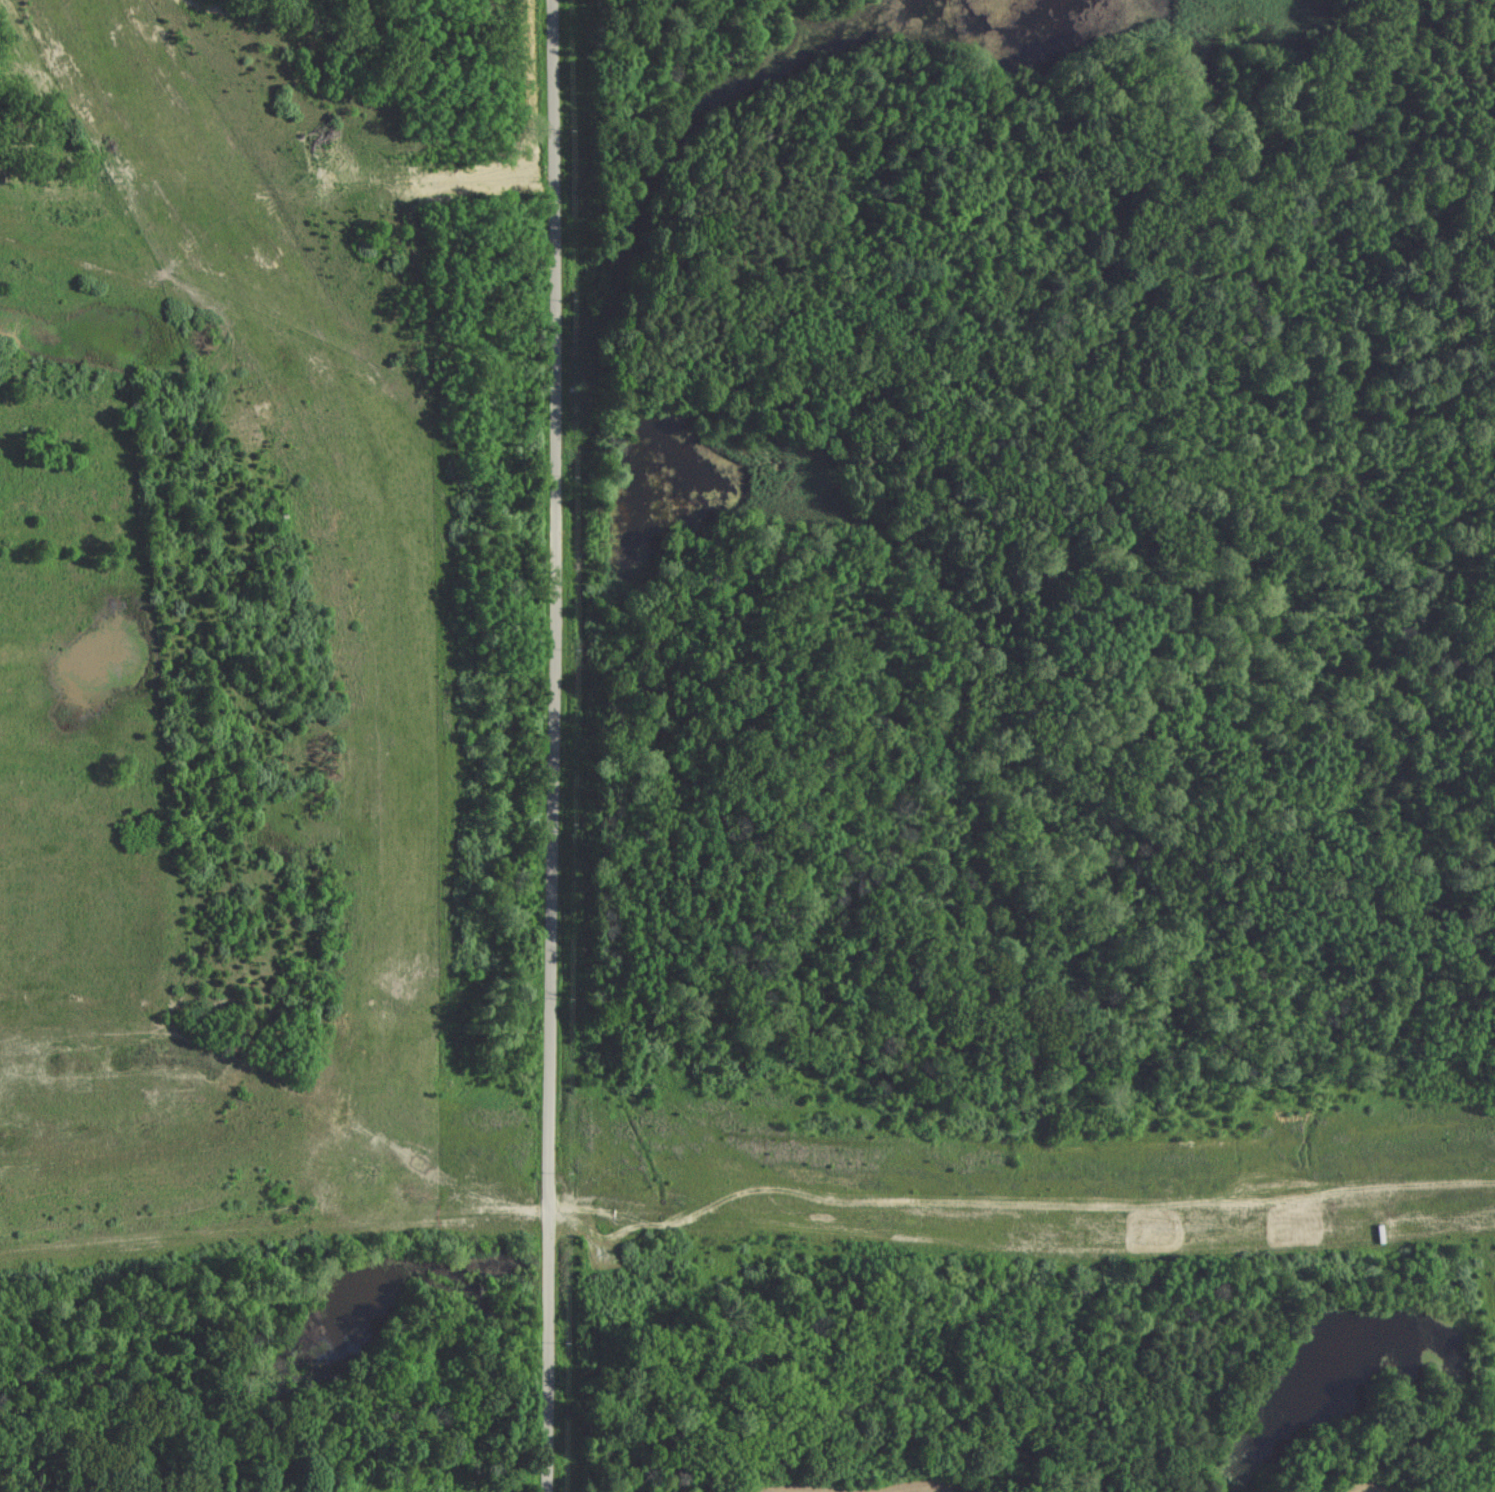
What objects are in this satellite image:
road: (557, 746)
road: (276, 1226)

